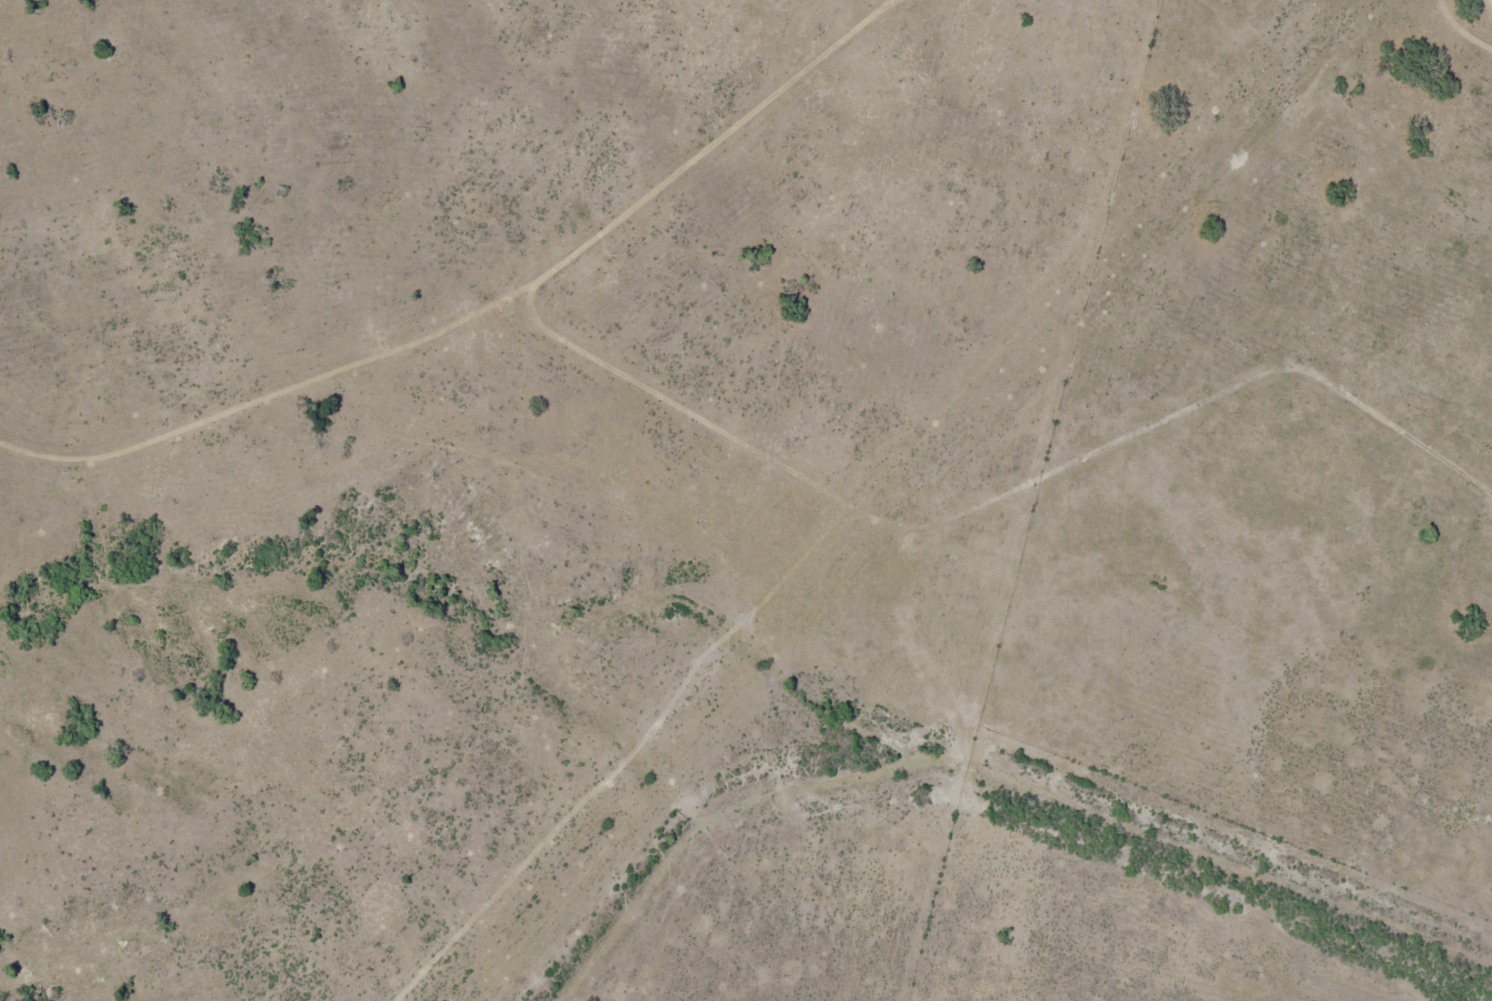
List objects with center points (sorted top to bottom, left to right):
road: (1482, 6)
road: (674, 155)
road: (754, 455)
road: (1147, 911)

